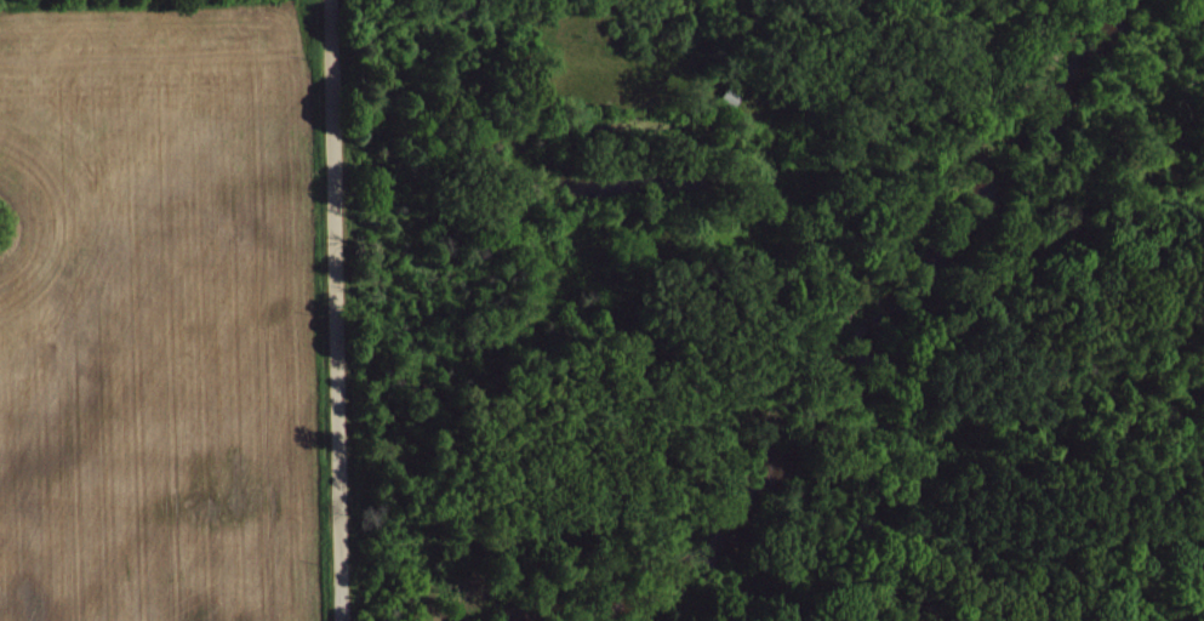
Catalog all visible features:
road: (331, 310)

